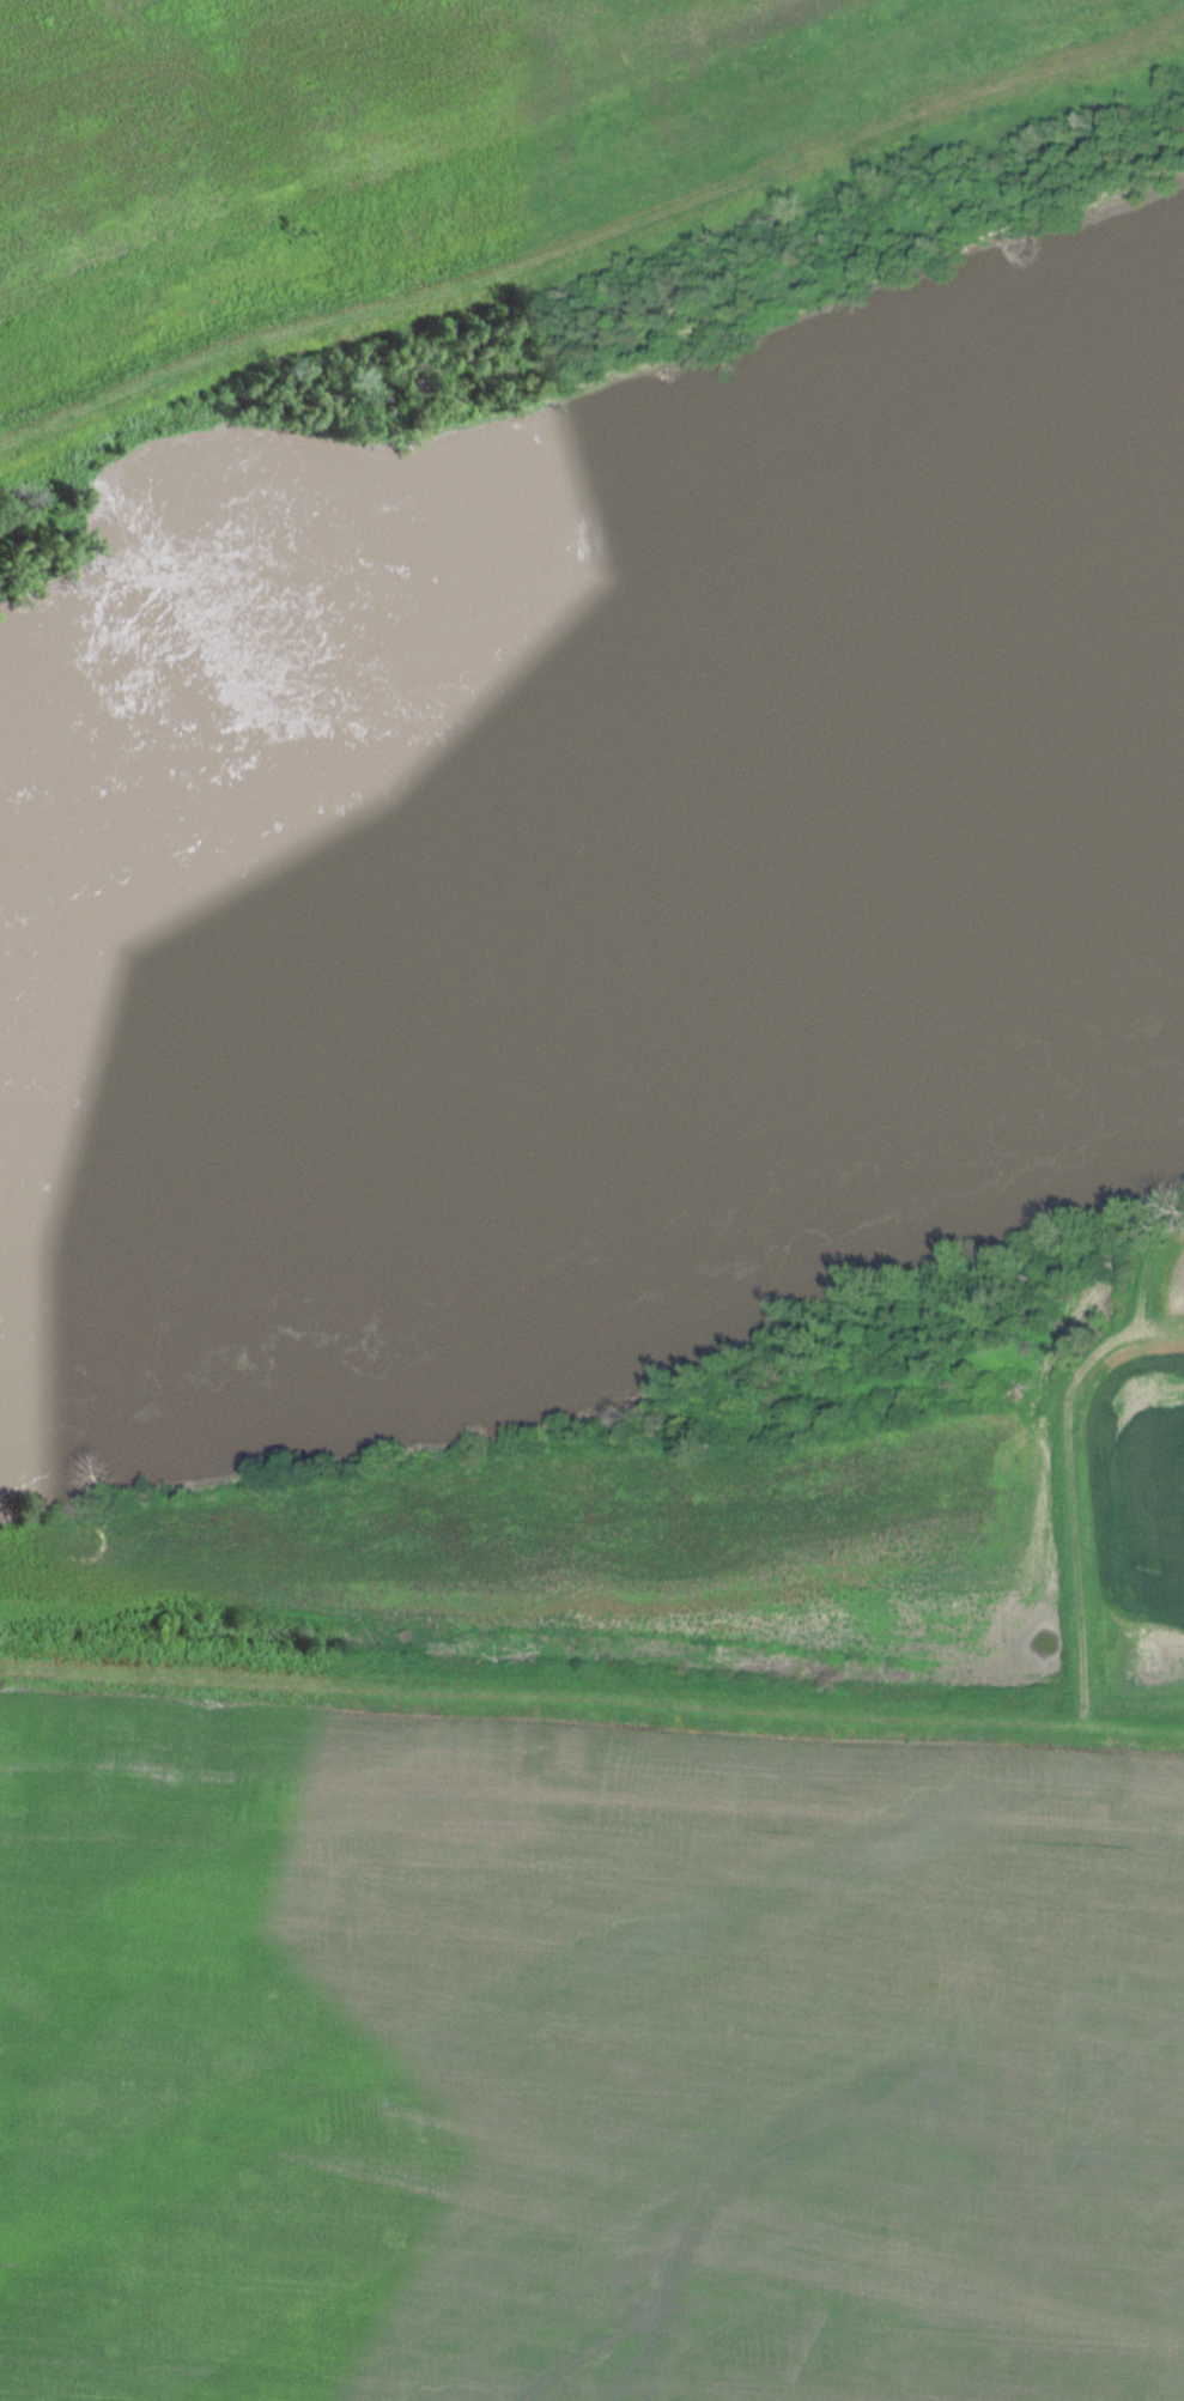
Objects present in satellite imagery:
river: (591, 738)

